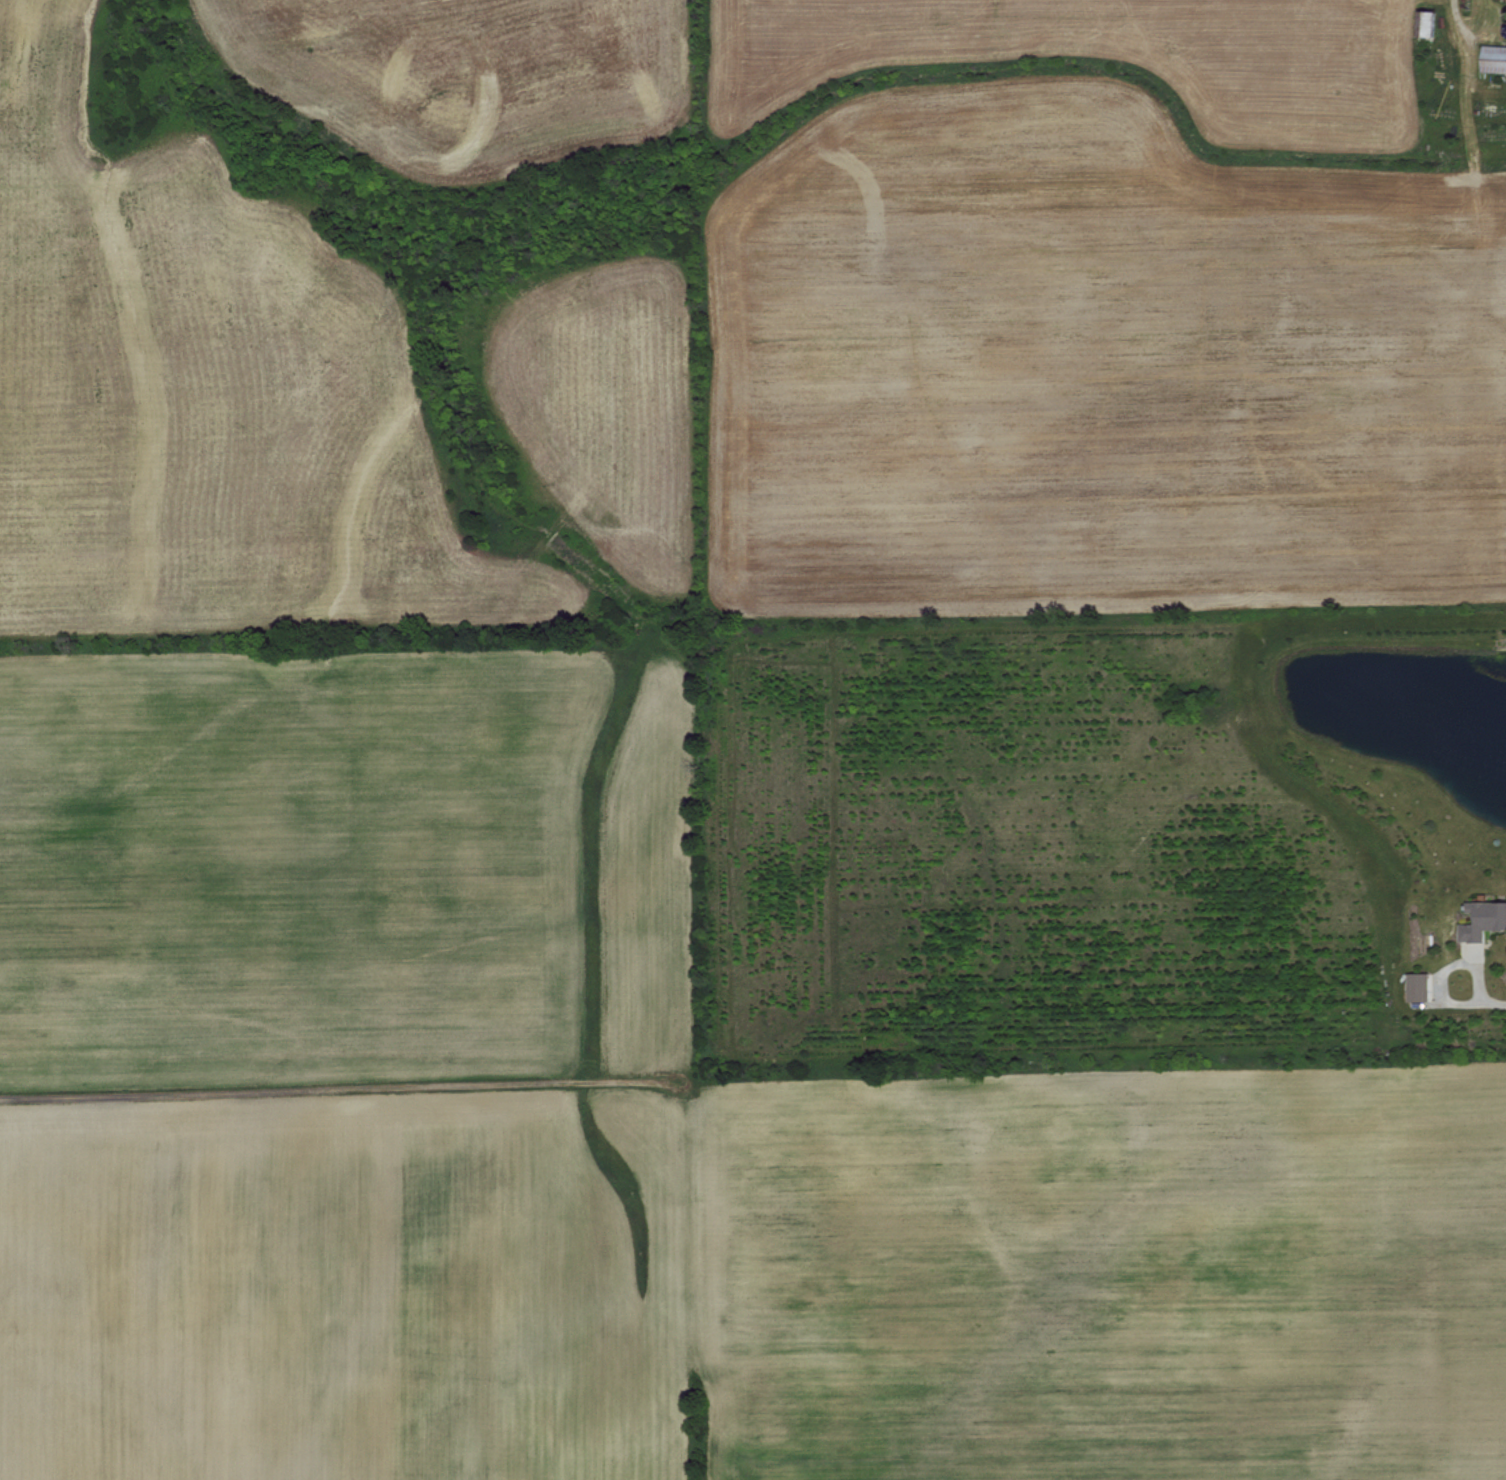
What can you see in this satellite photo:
building: (1423, 21)
building: (1492, 57)
building: (1482, 918)
road: (1474, 980)
building: (1415, 985)

